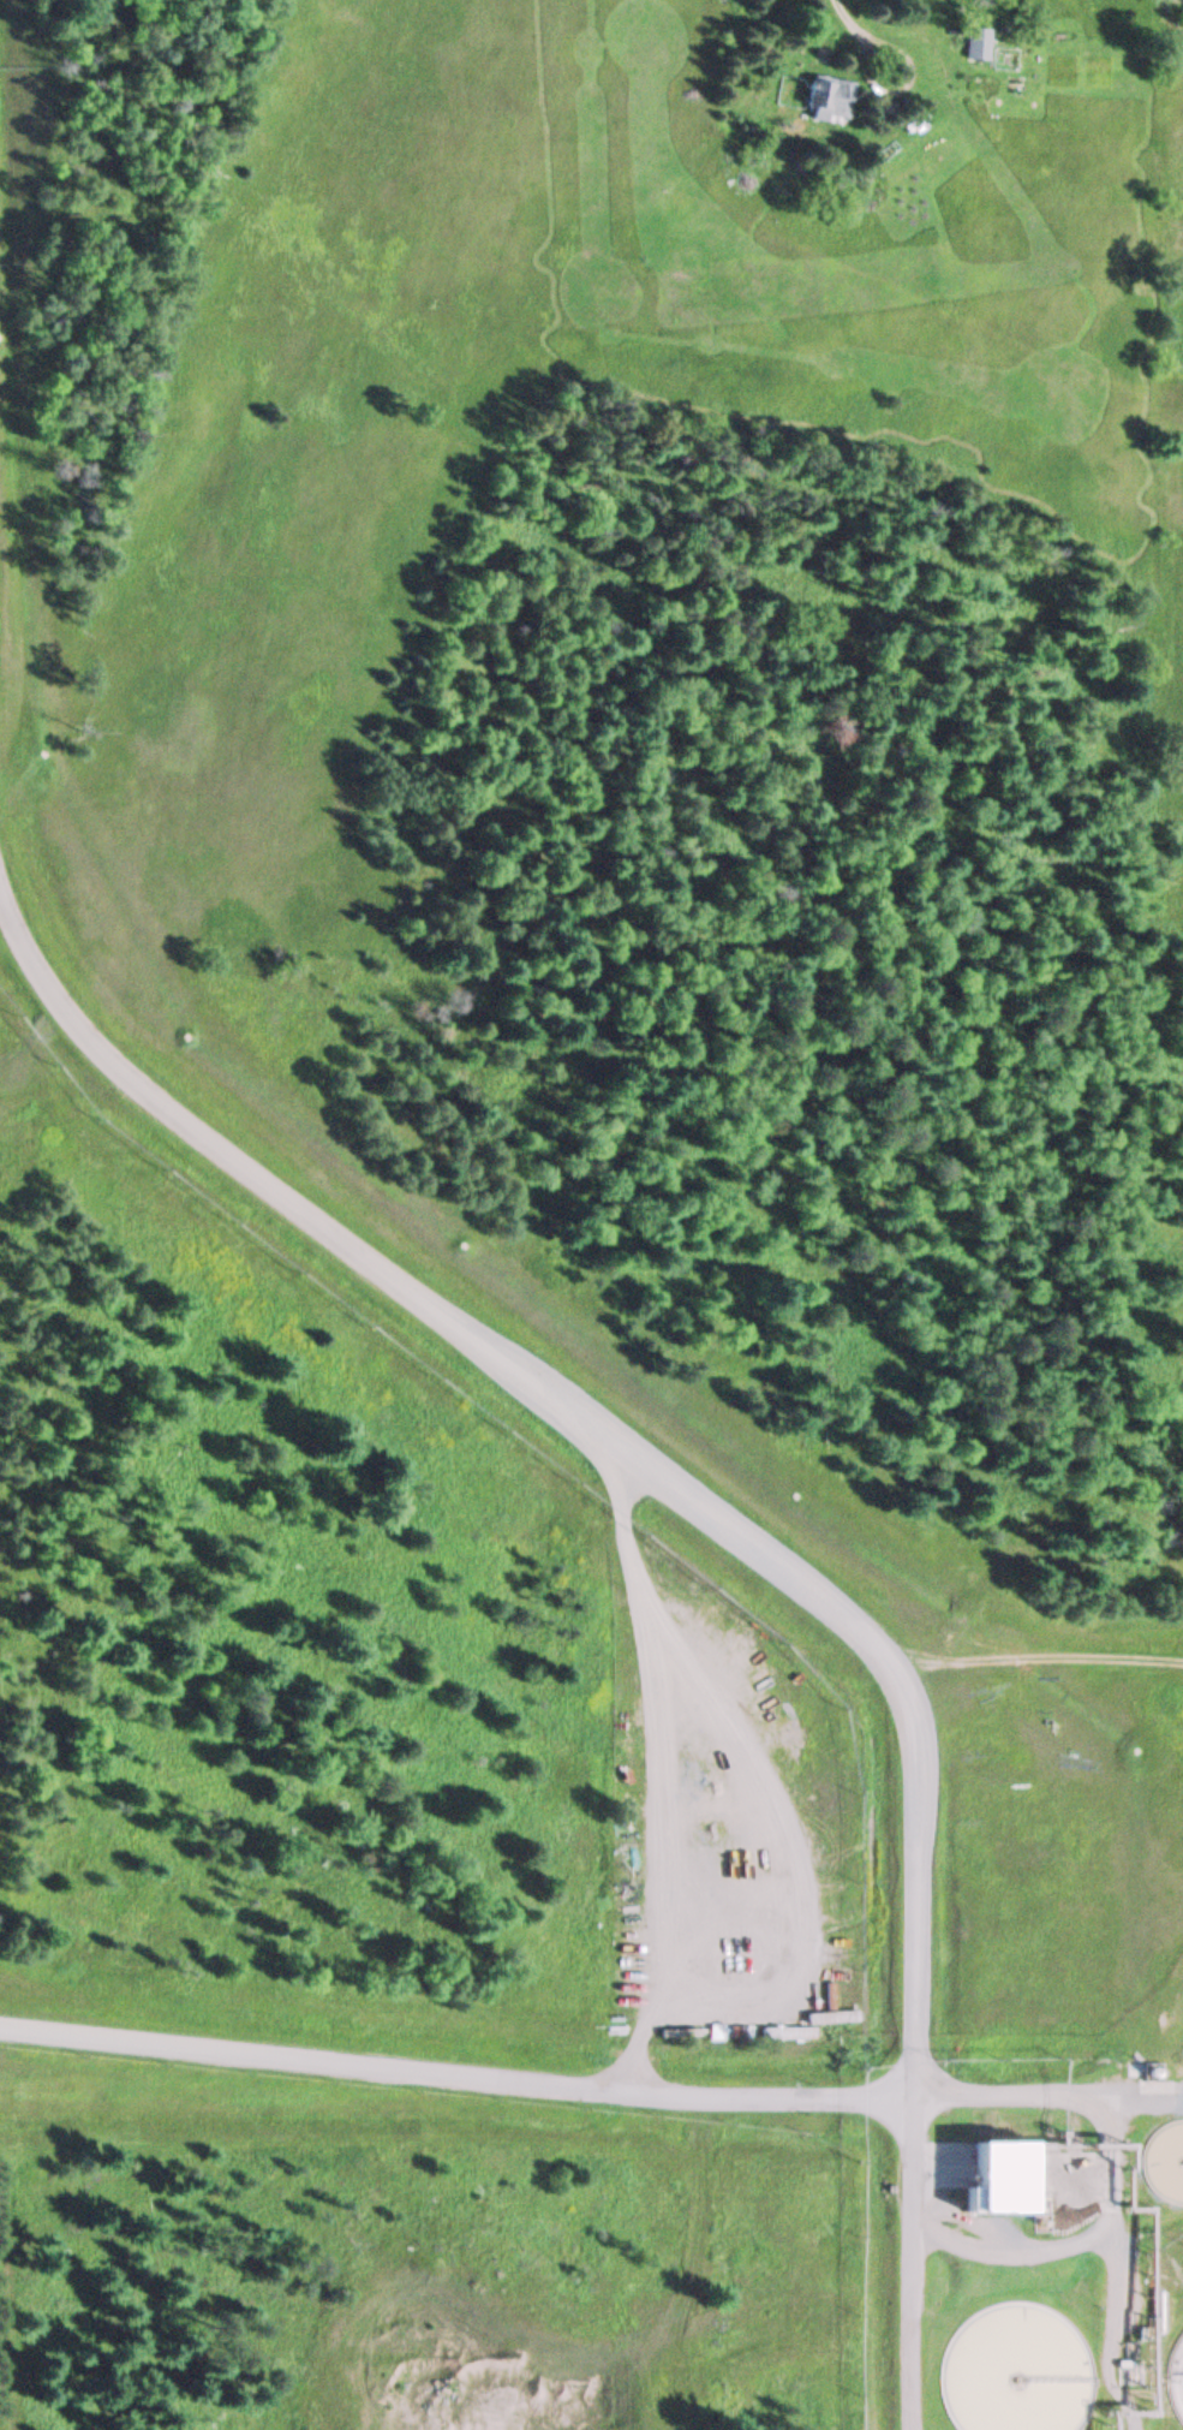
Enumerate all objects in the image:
building: (970, 44)
building: (823, 102)
road: (713, 1533)
building: (994, 2184)
wastewater plant: (1046, 2226)

